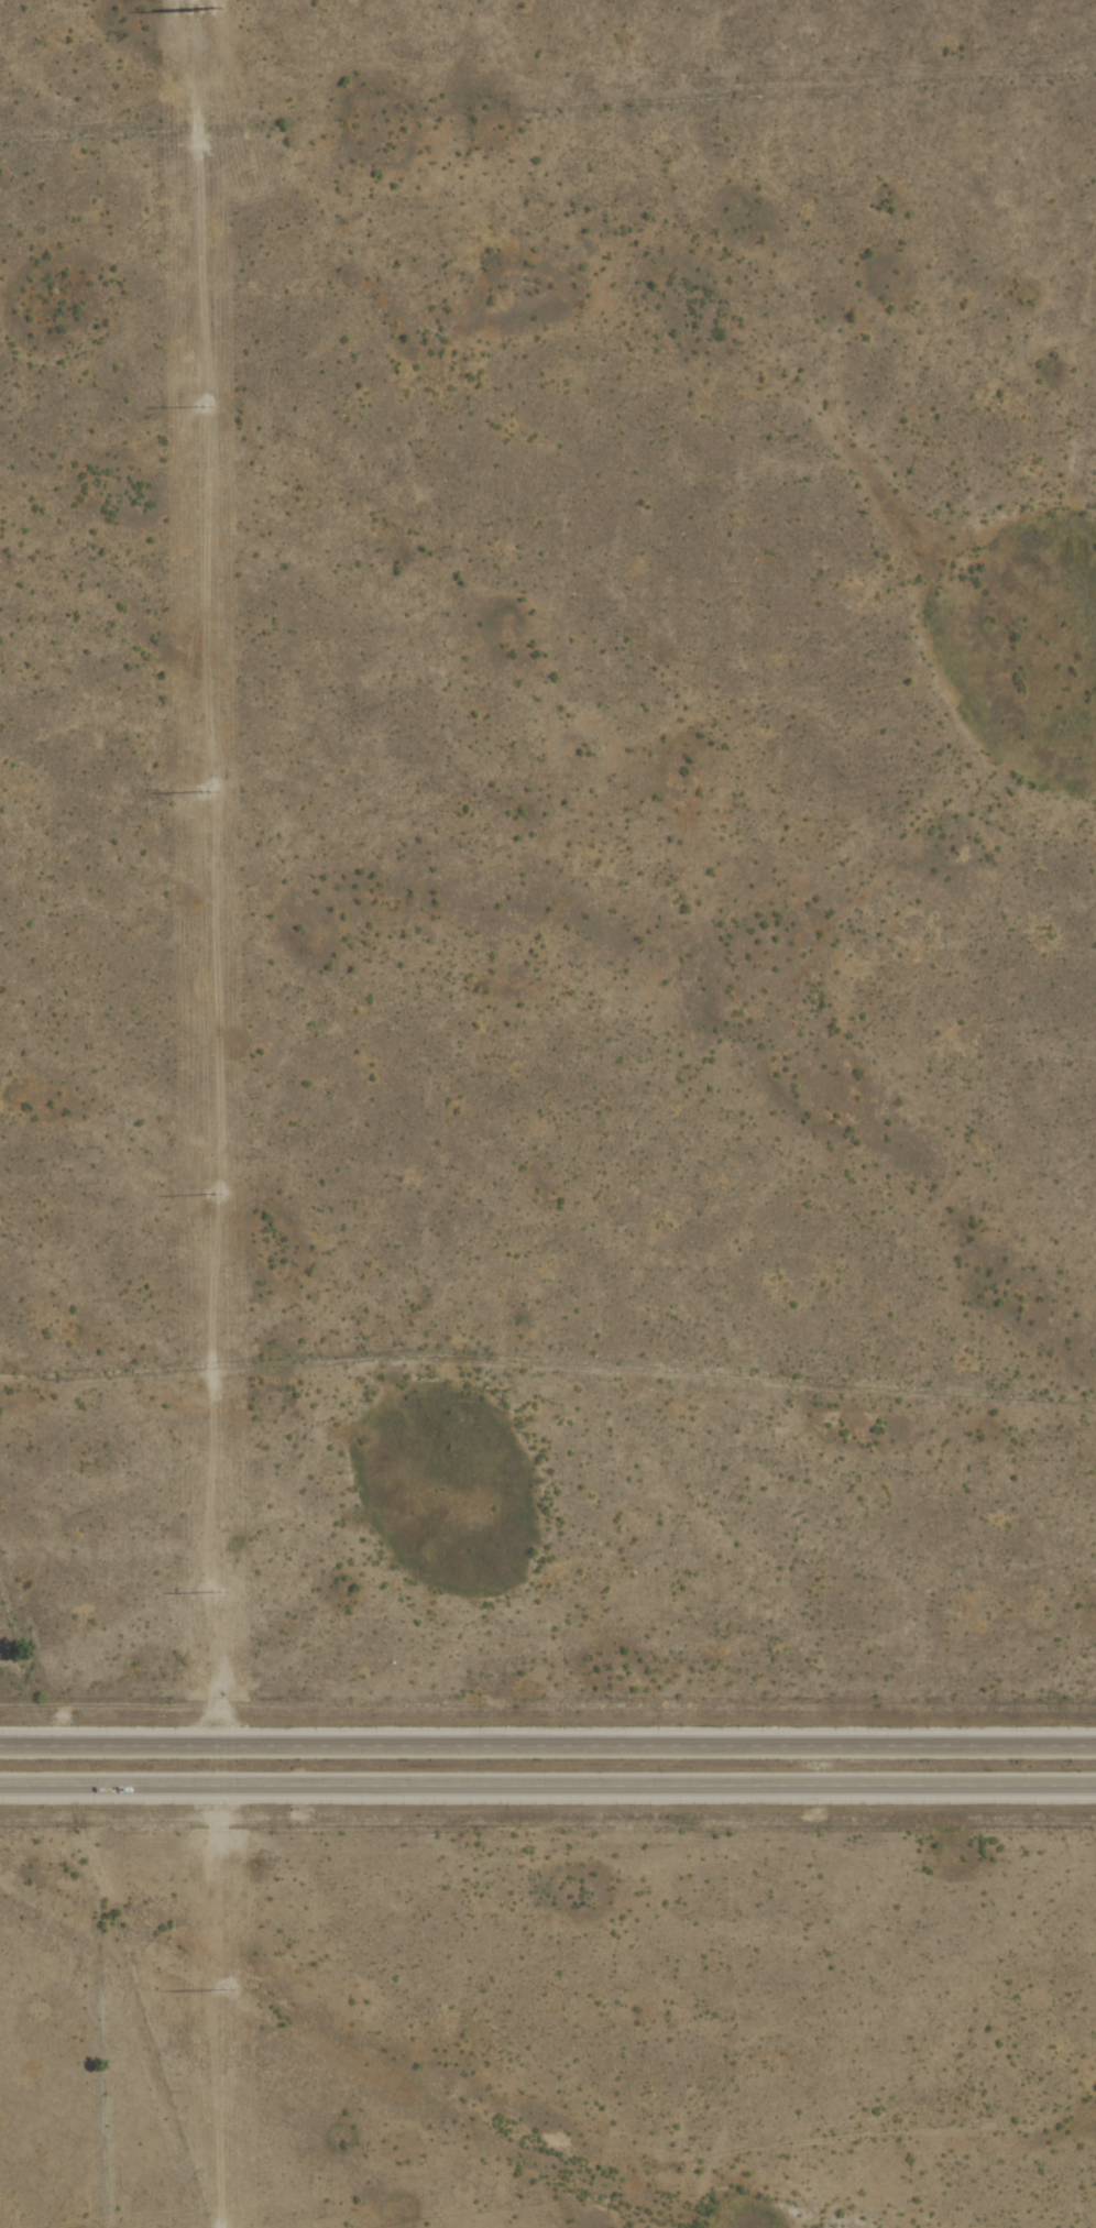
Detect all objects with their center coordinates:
road: (548, 1749)
road: (548, 1789)

